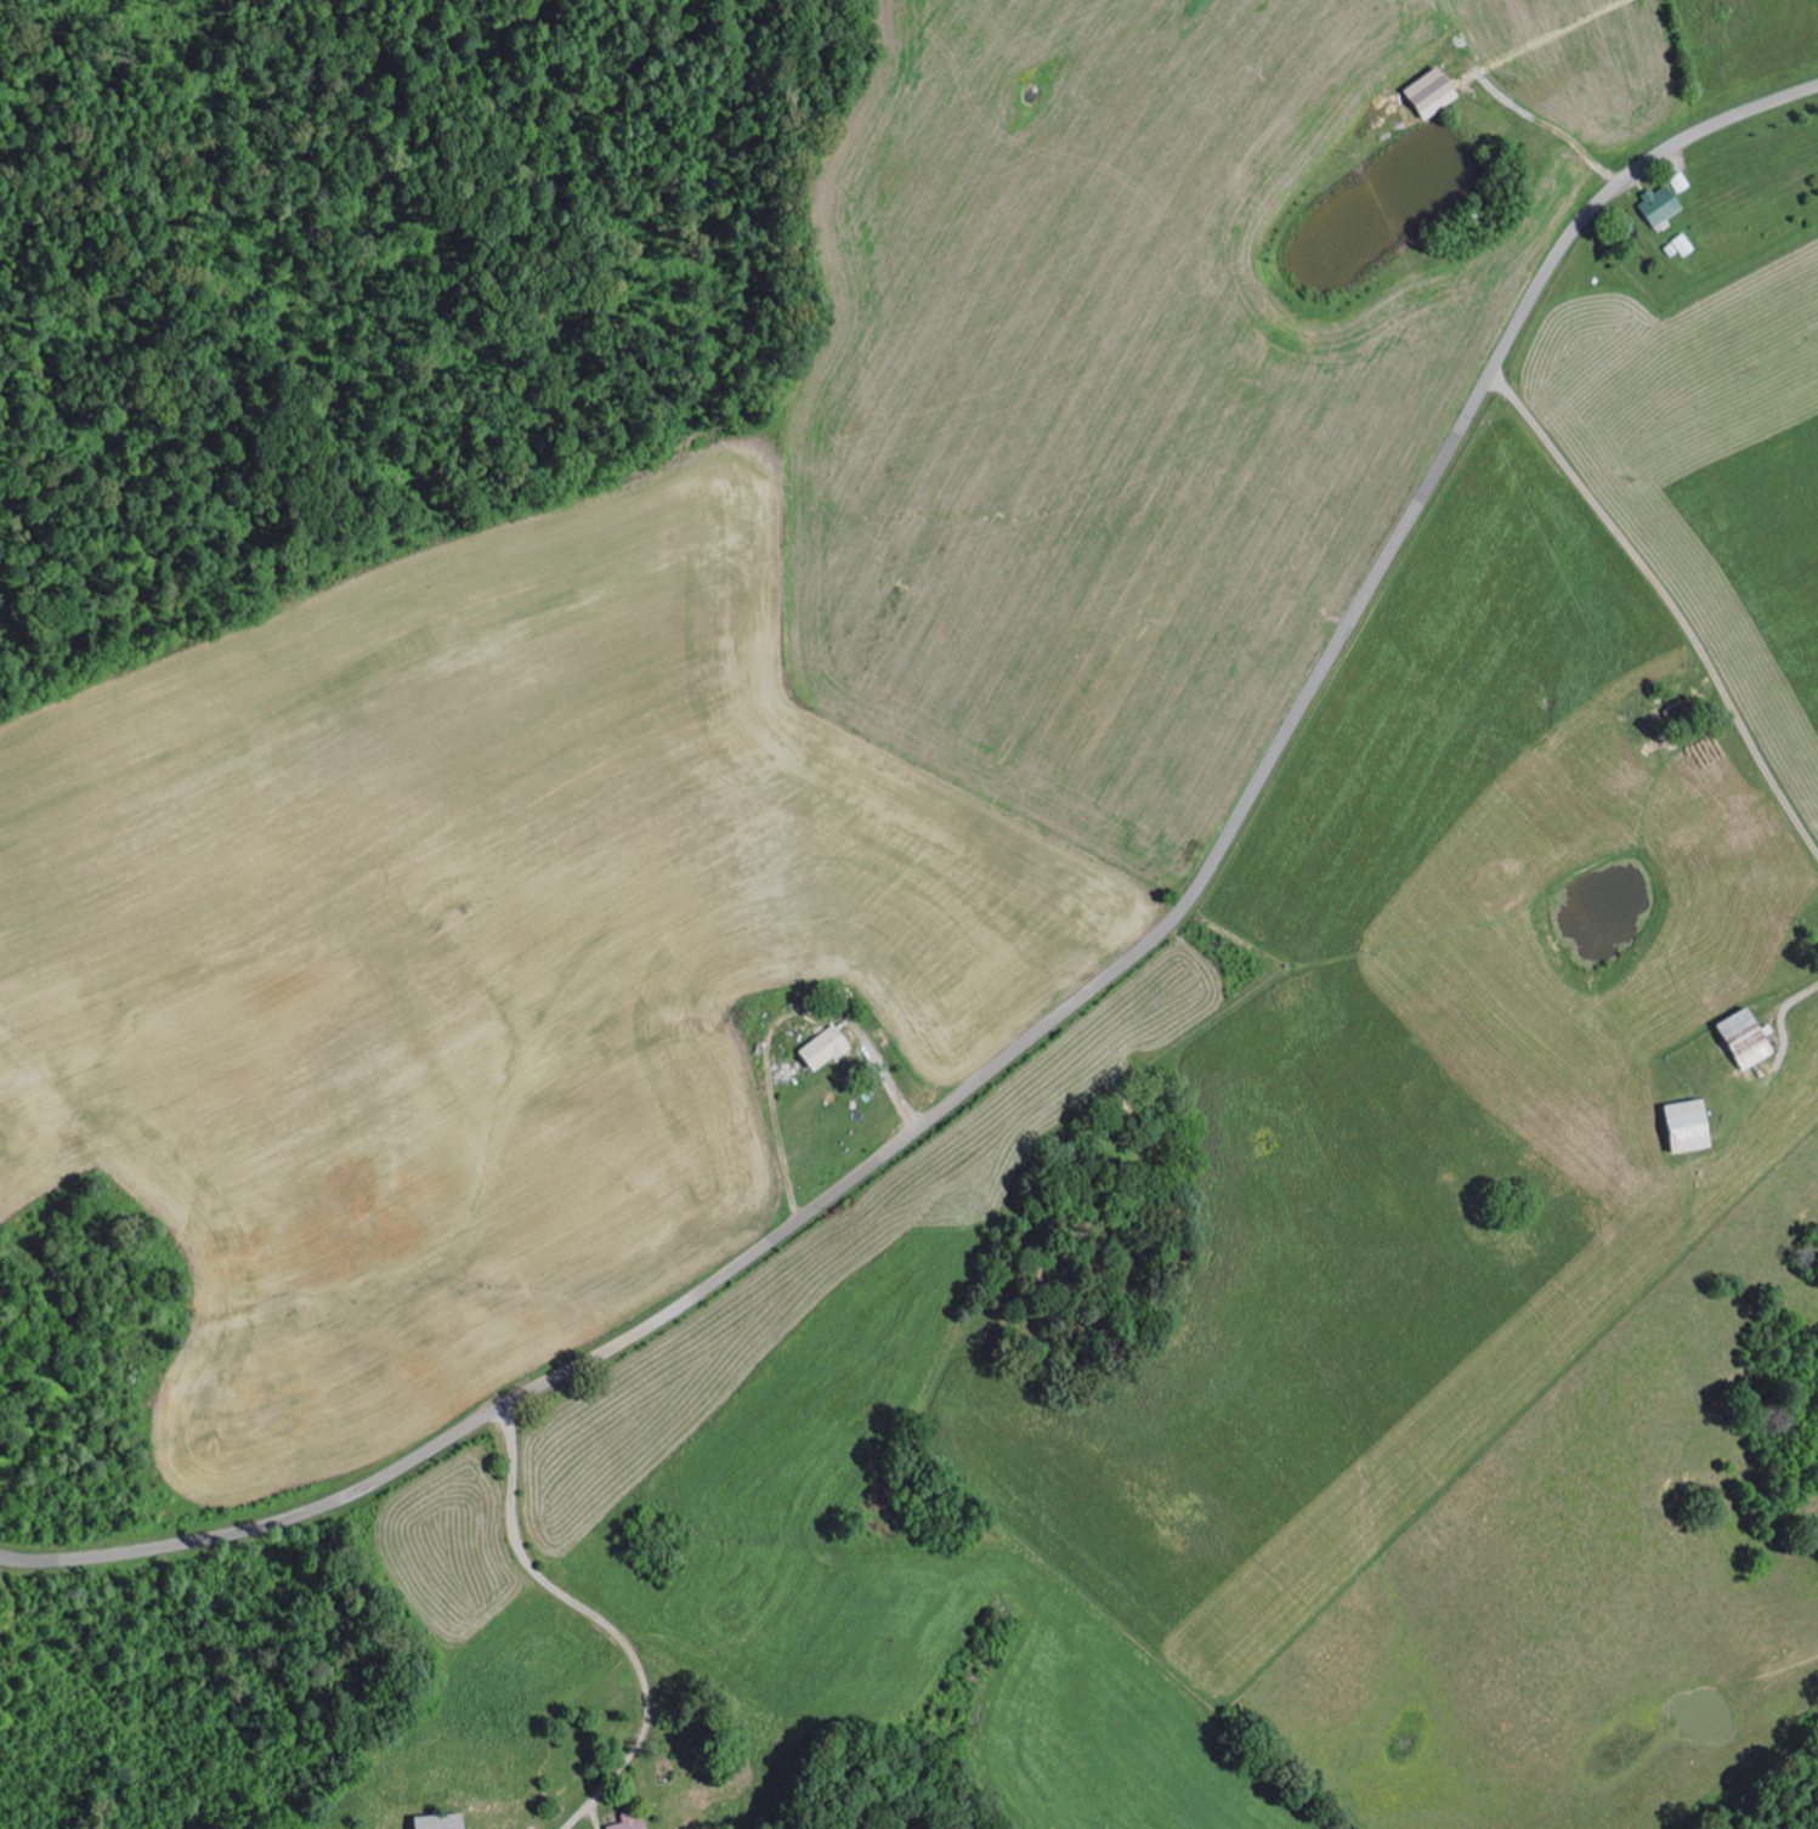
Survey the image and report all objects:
building: (1435, 91)
building: (1663, 204)
road: (1060, 1009)
building: (1750, 1036)
building: (827, 1046)
building: (1694, 1123)
building: (446, 1820)
building: (633, 1822)

